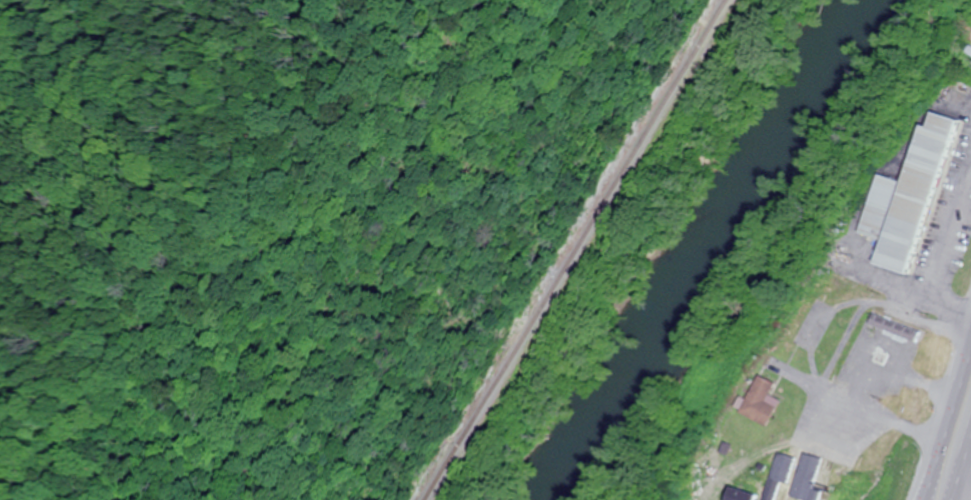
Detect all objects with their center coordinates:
building: (912, 197)
river: (706, 248)
railway: (568, 251)
road: (853, 301)
building: (897, 328)
building: (764, 401)
road: (950, 429)
building: (800, 477)
road: (965, 481)
building: (742, 495)

